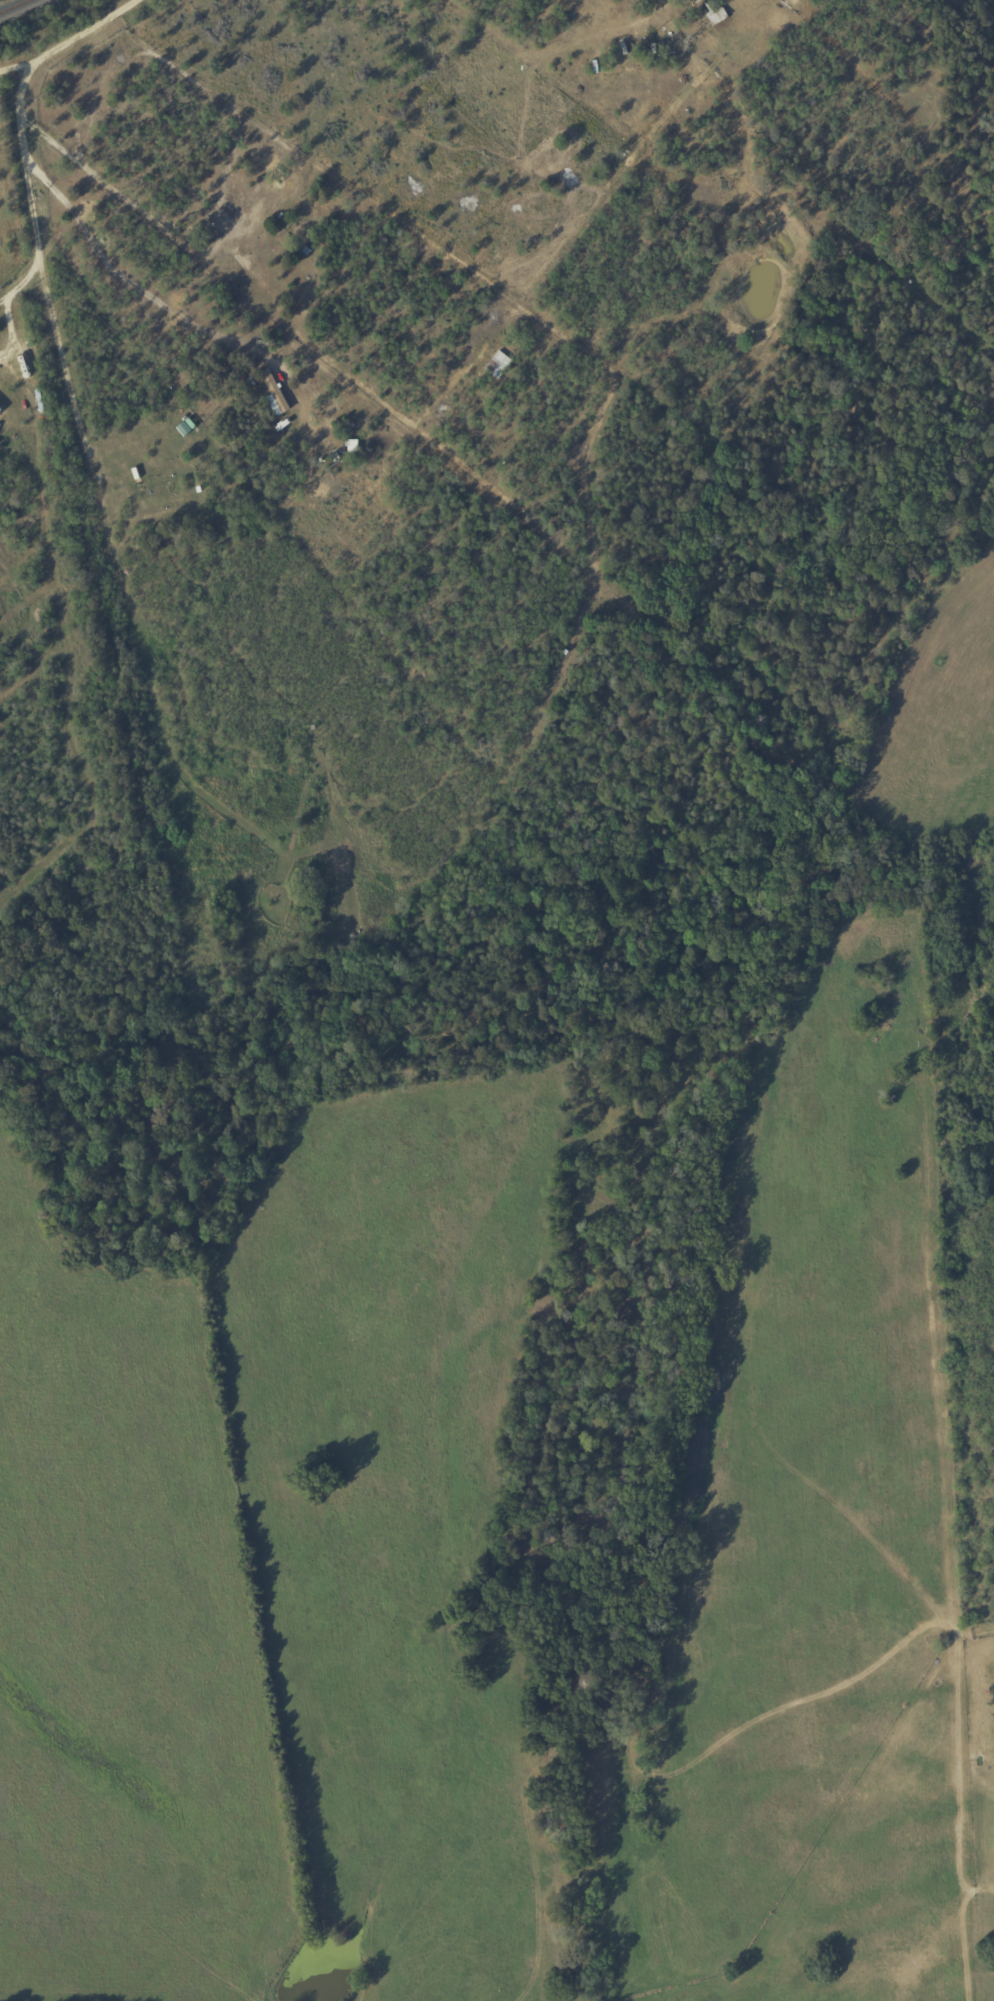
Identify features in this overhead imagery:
railway: (16, 6)
road: (13, 69)
road: (80, 121)
road: (20, 131)
road: (147, 228)
road: (26, 280)
road: (3, 302)
road: (12, 331)
building: (275, 394)
building: (1, 410)
building: (353, 446)

